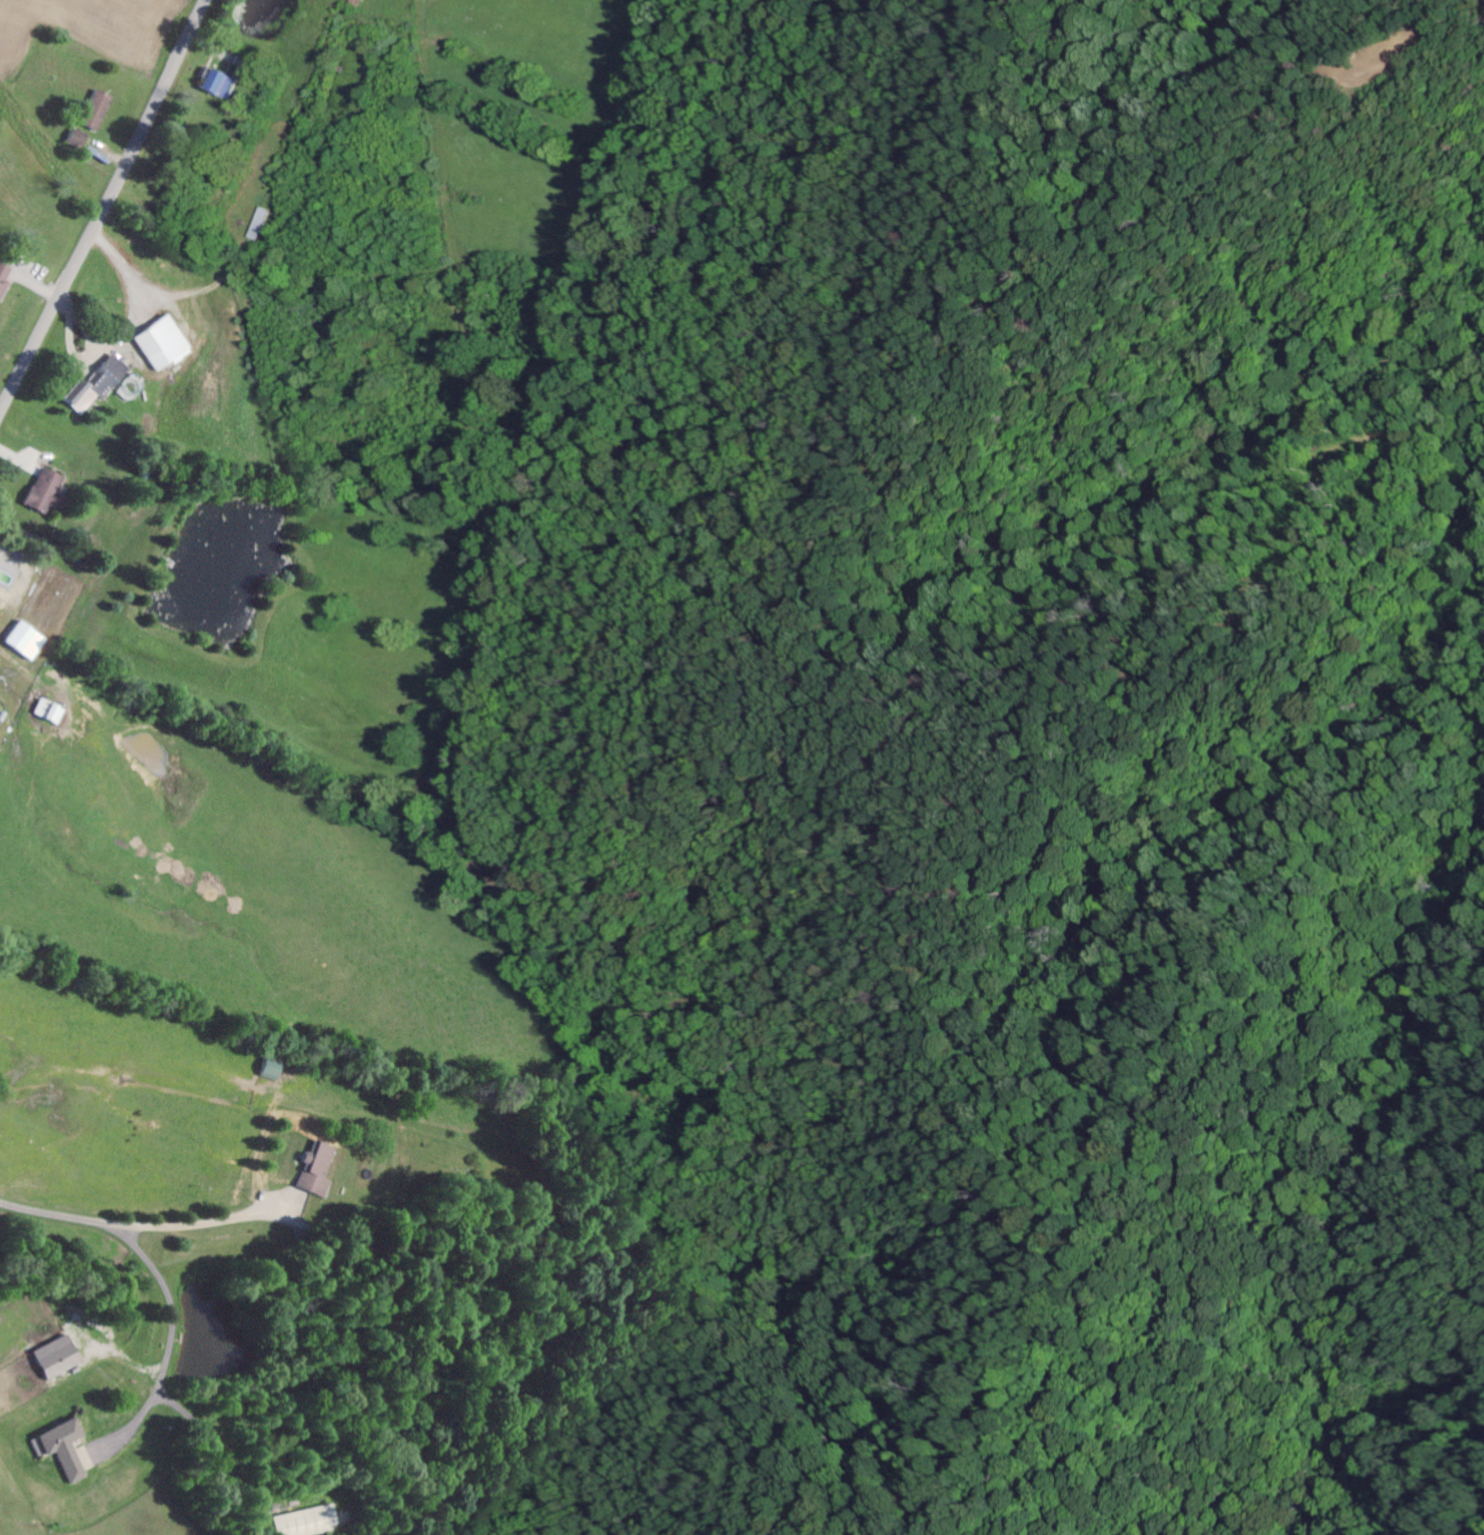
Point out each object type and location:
building: (357, 3)
building: (220, 83)
building: (100, 110)
building: (82, 139)
road: (104, 207)
building: (5, 278)
building: (169, 344)
building: (103, 383)
building: (50, 490)
building: (31, 639)
building: (265, 1069)
building: (314, 1167)
building: (52, 1356)
building: (62, 1448)

